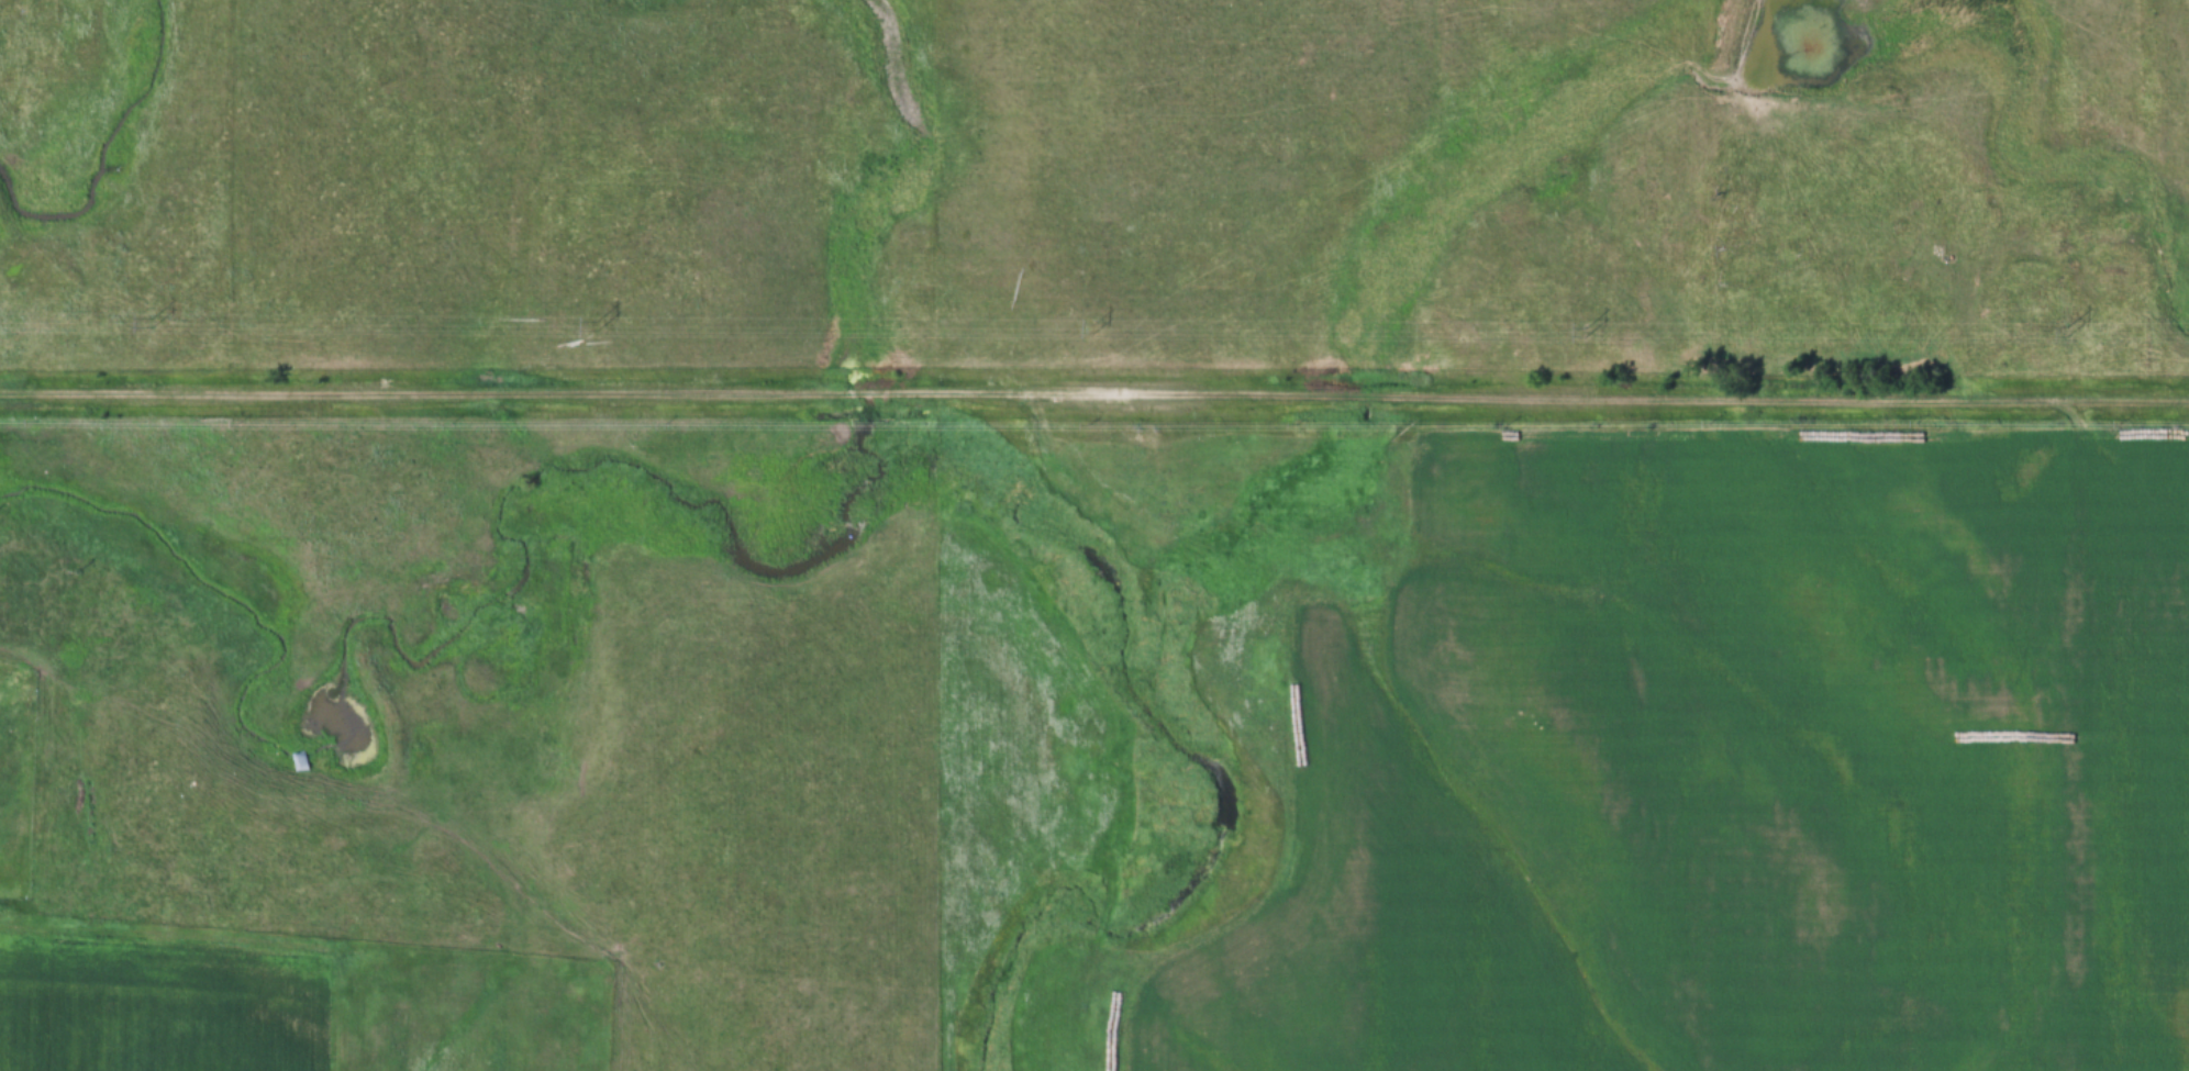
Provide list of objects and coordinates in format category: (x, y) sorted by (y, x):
power tower: (151, 324)
power tower: (596, 327)
power tower: (1097, 330)
power tower: (2063, 332)
power tower: (1589, 333)
road: (1093, 400)

